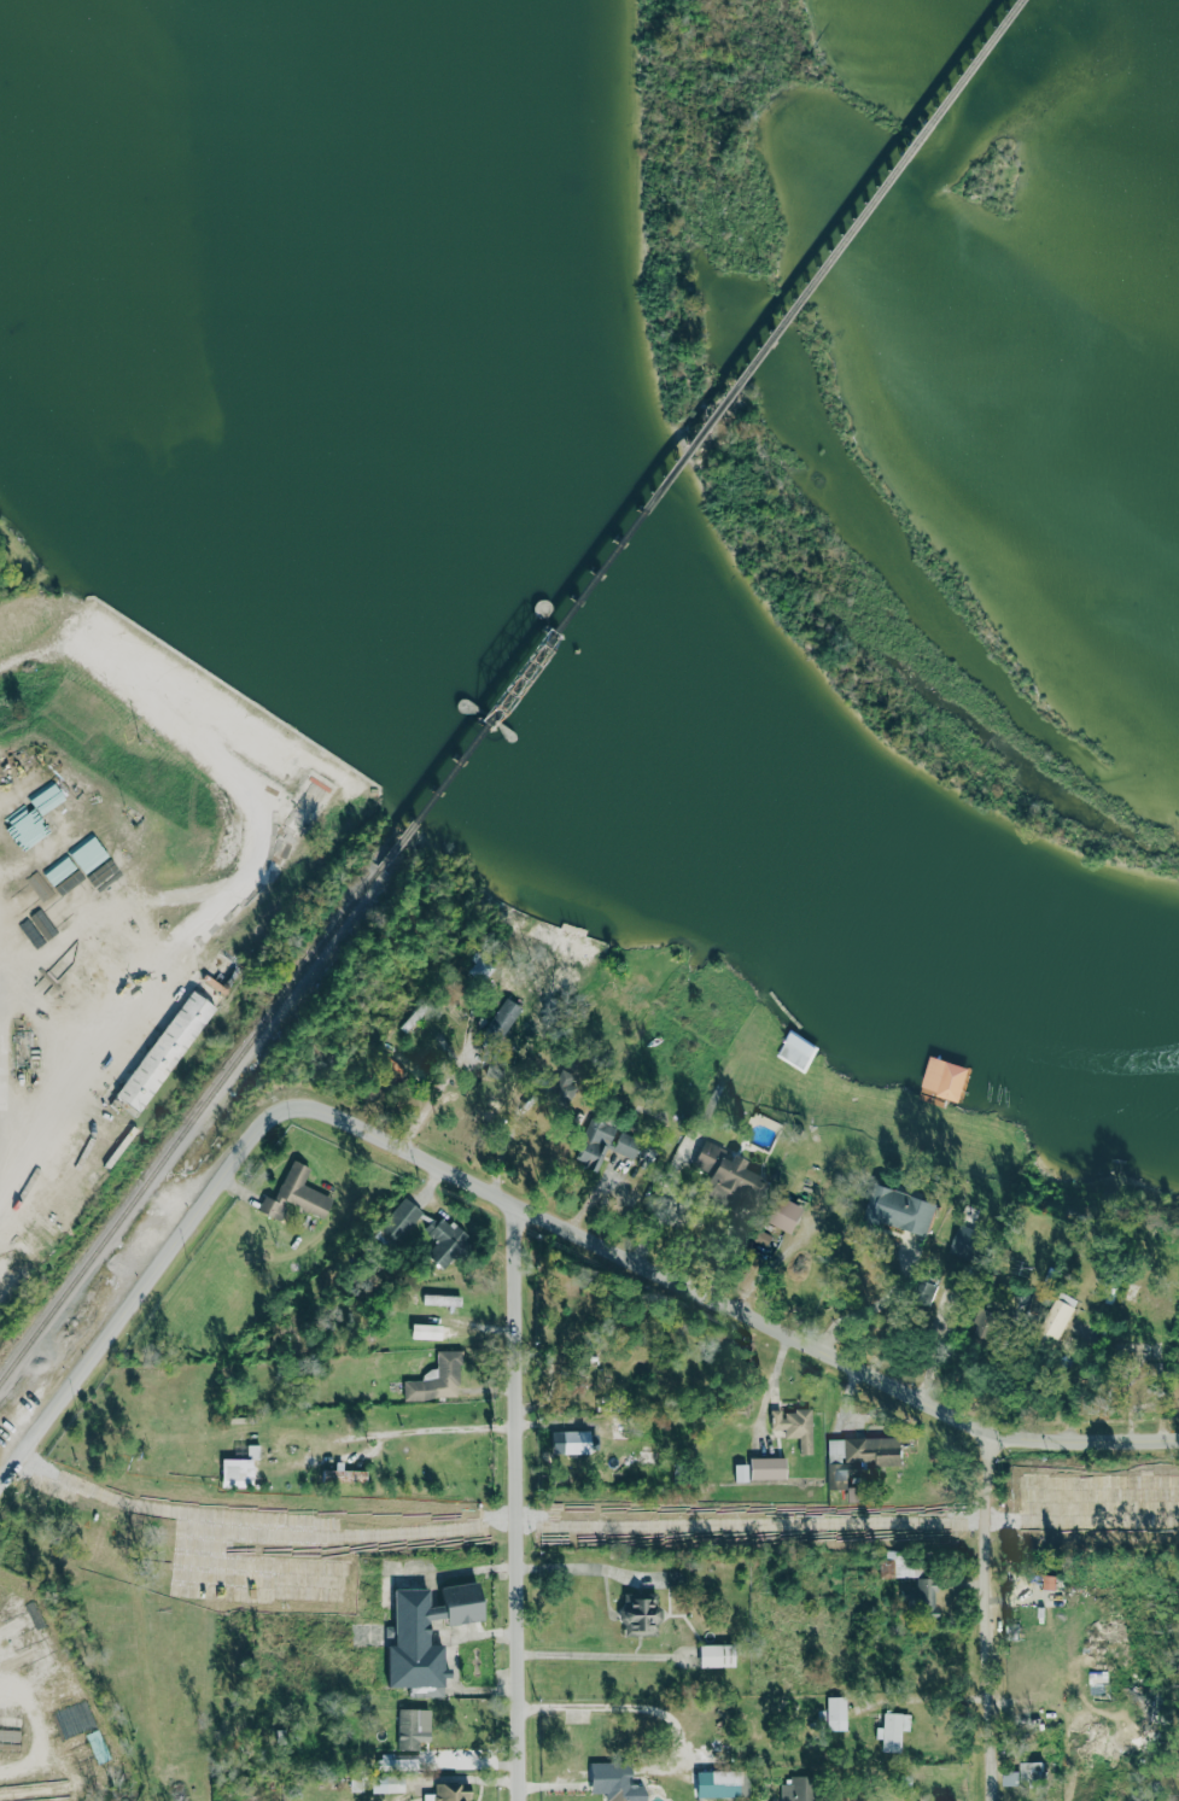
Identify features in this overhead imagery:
railway: (696, 432)
road: (58, 648)
building: (86, 854)
road: (229, 895)
building: (501, 1021)
building: (165, 1049)
building: (798, 1051)
building: (494, 1068)
building: (945, 1077)
building: (549, 1089)
road: (439, 1090)
railway: (189, 1123)
building: (589, 1144)
building: (623, 1145)
building: (648, 1153)
building: (717, 1169)
road: (506, 1189)
building: (292, 1195)
building: (894, 1209)
building: (784, 1212)
building: (396, 1221)
building: (440, 1241)
building: (1052, 1276)
building: (436, 1299)
road: (879, 1302)
building: (1053, 1316)
building: (420, 1331)
building: (433, 1379)
building: (790, 1426)
road: (442, 1429)
building: (571, 1442)
building: (250, 1451)
building: (856, 1456)
building: (232, 1468)
building: (758, 1468)
building: (342, 1474)
road: (515, 1502)
building: (885, 1568)
building: (922, 1597)
building: (637, 1615)
road: (986, 1616)
building: (419, 1635)
road: (597, 1655)
building: (712, 1655)
building: (833, 1713)
building: (408, 1727)
building: (889, 1730)
building: (395, 1761)
building: (1008, 1779)
building: (611, 1782)
building: (383, 1784)
building: (739, 1784)
building: (793, 1790)
building: (445, 1793)

